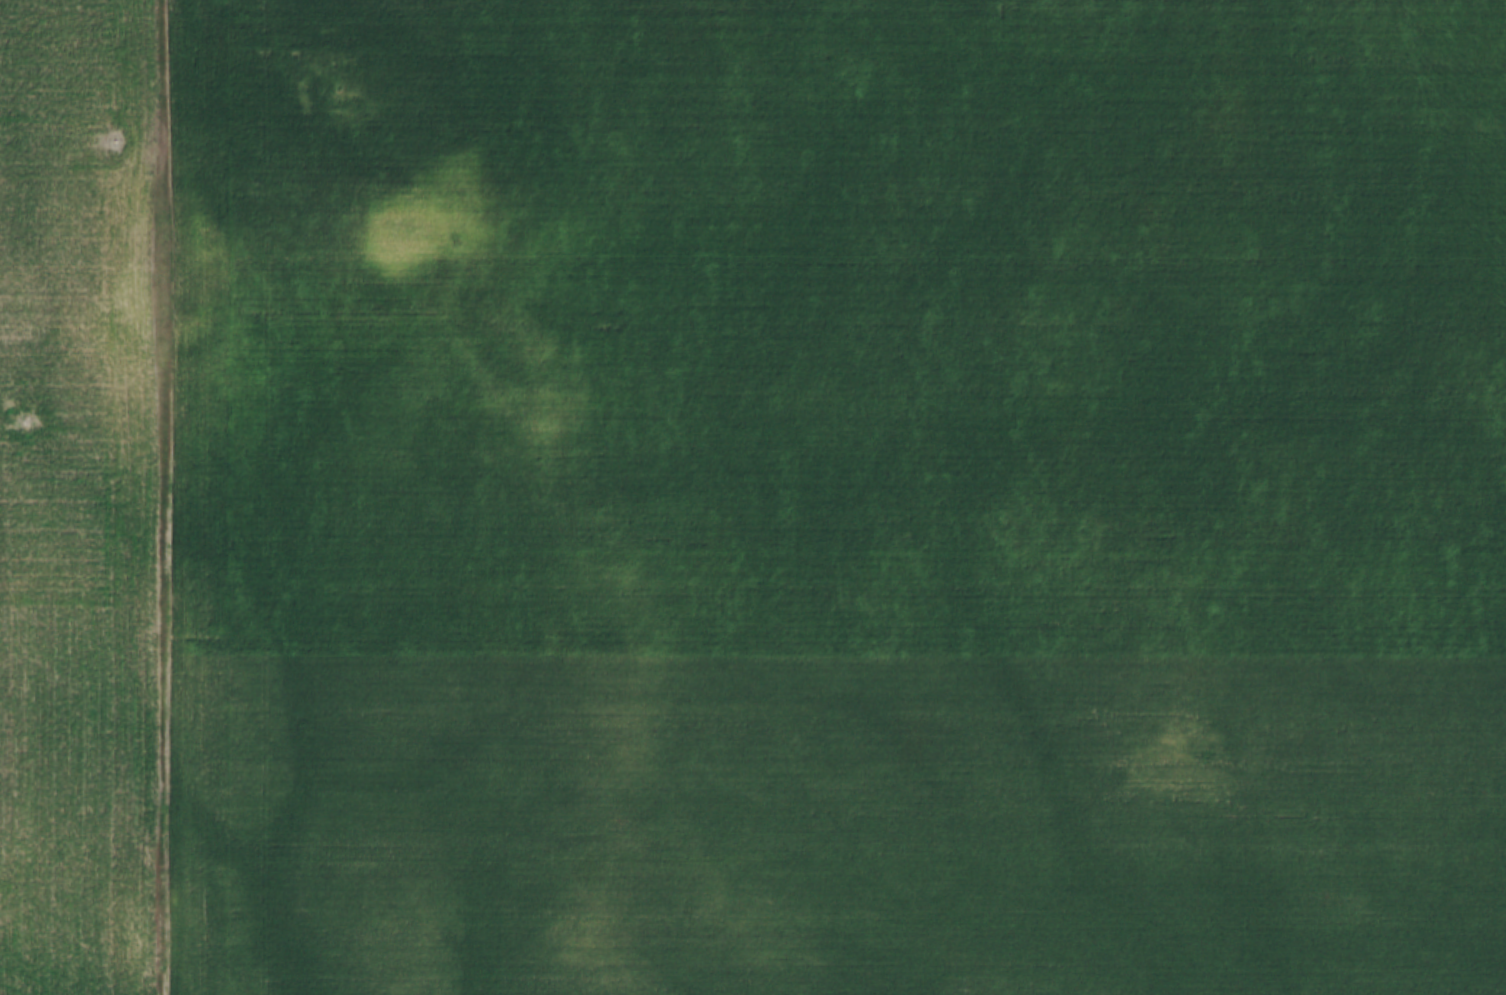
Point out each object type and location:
road: (249, 55)
building: (336, 86)

